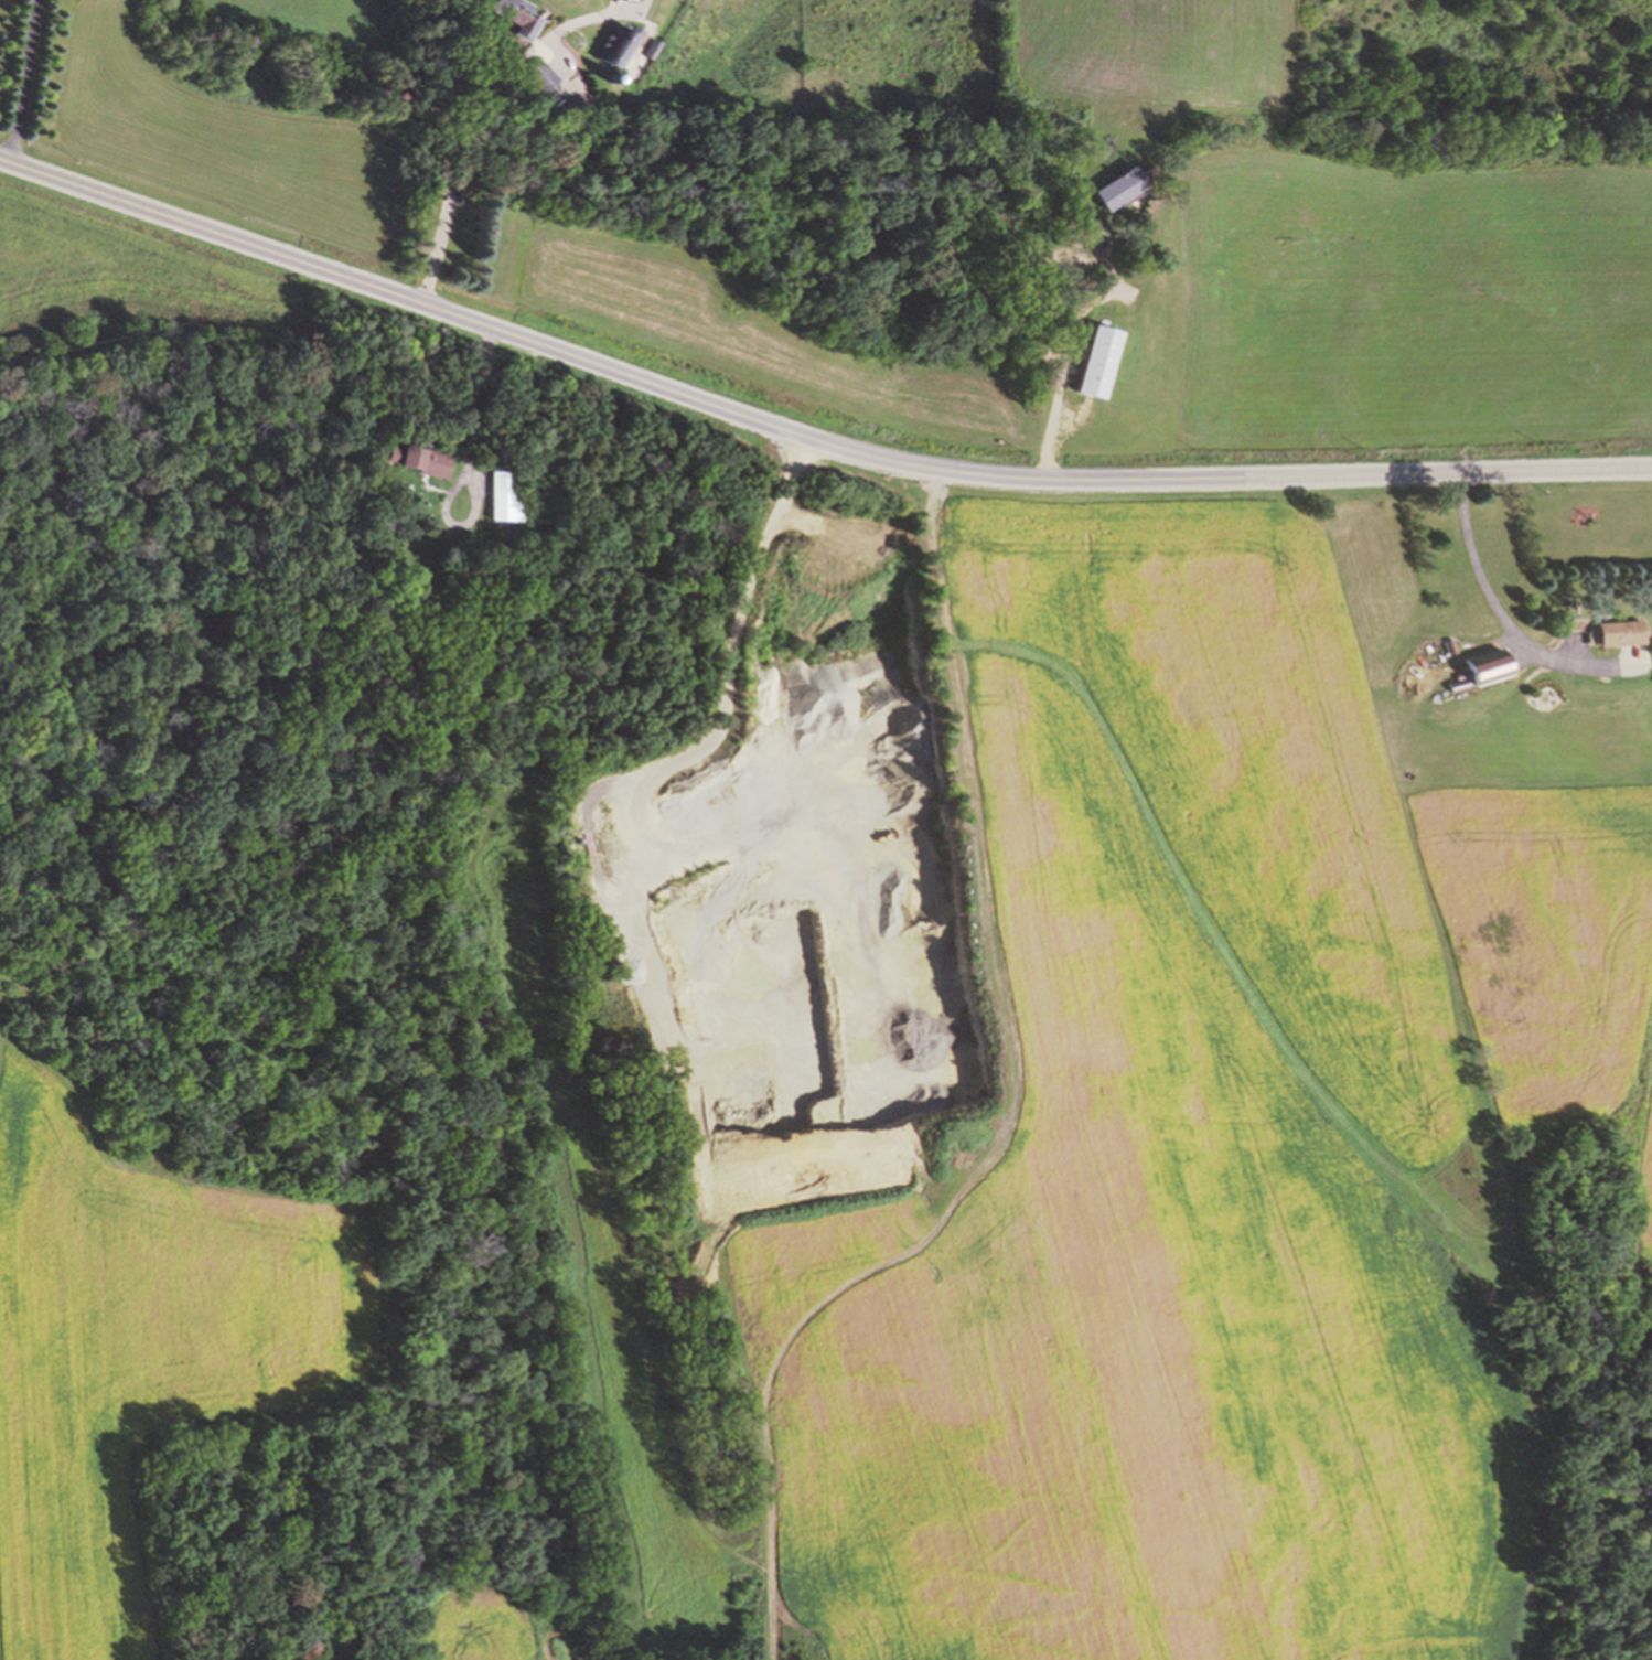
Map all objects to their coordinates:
building: (515, 18)
building: (621, 44)
building: (653, 49)
building: (540, 76)
road: (28, 81)
road: (483, 121)
building: (1119, 188)
road: (1070, 330)
building: (1098, 361)
road: (805, 433)
building: (420, 458)
road: (466, 467)
building: (504, 497)
road: (1499, 621)
building: (1622, 633)
building: (1490, 667)
quarry: (794, 834)
road: (679, 837)
road: (998, 903)

